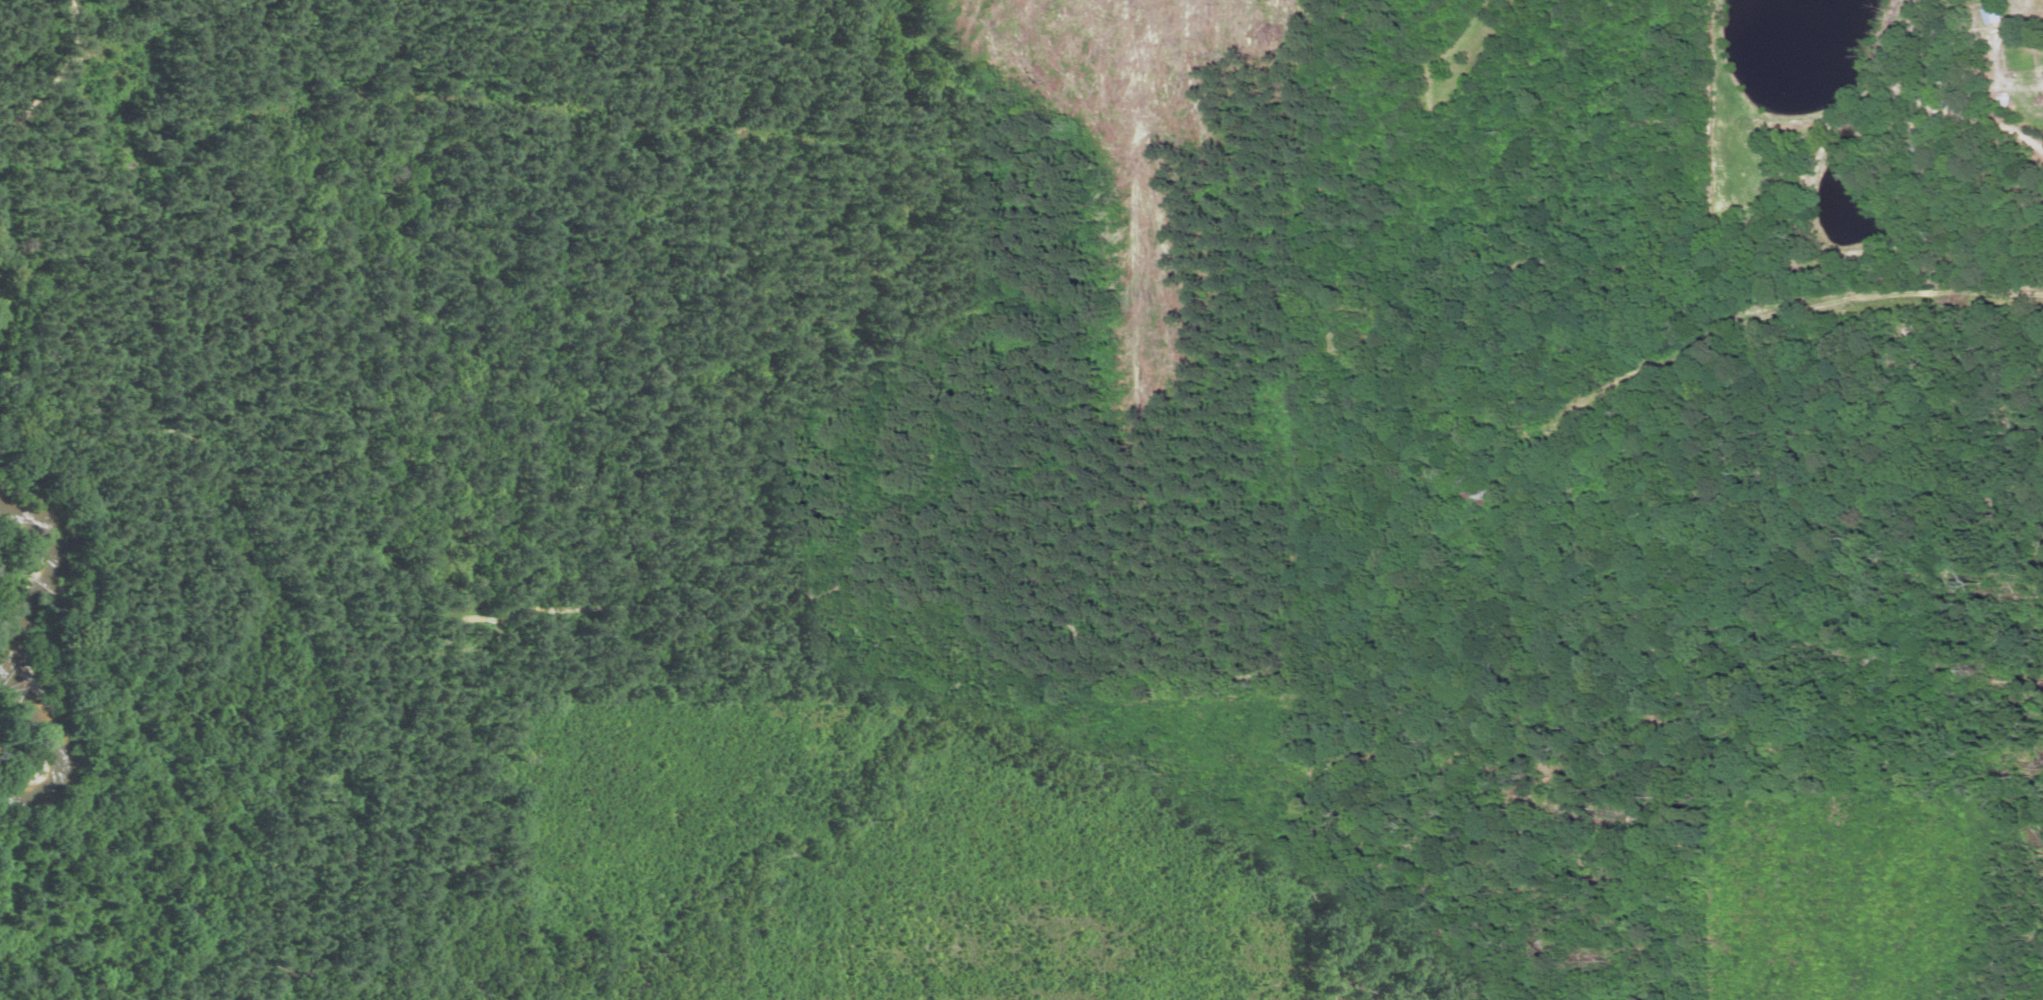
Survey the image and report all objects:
building: (1996, 13)
road: (2033, 228)
building: (1480, 491)

